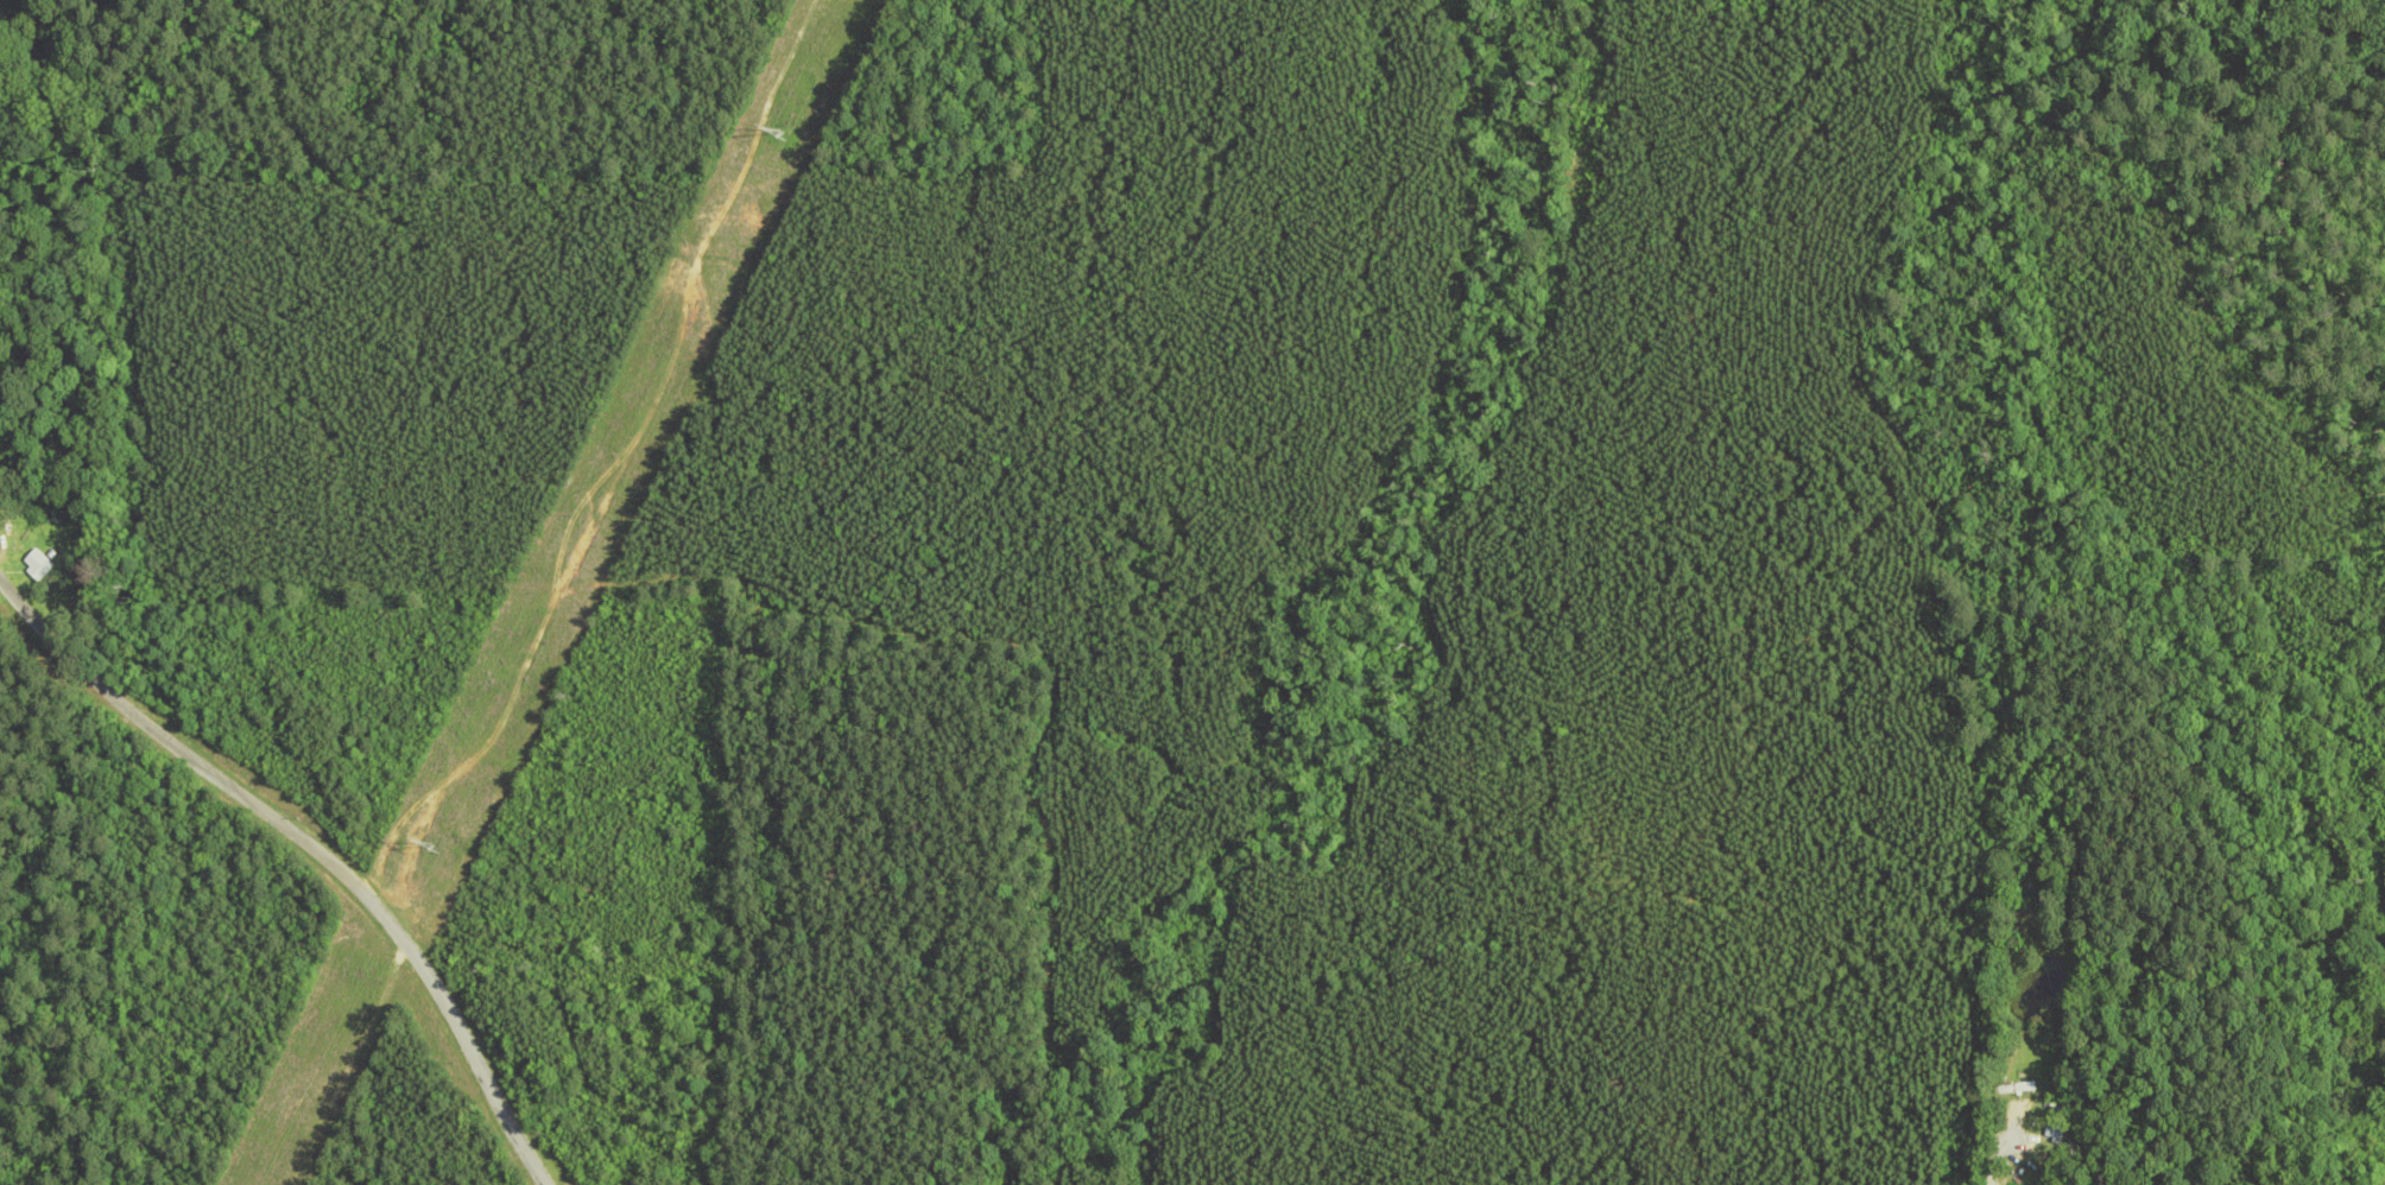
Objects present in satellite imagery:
power tower: (779, 133)
building: (36, 565)
road: (185, 752)
power tower: (429, 845)
road: (468, 1045)
building: (2375, 1134)

